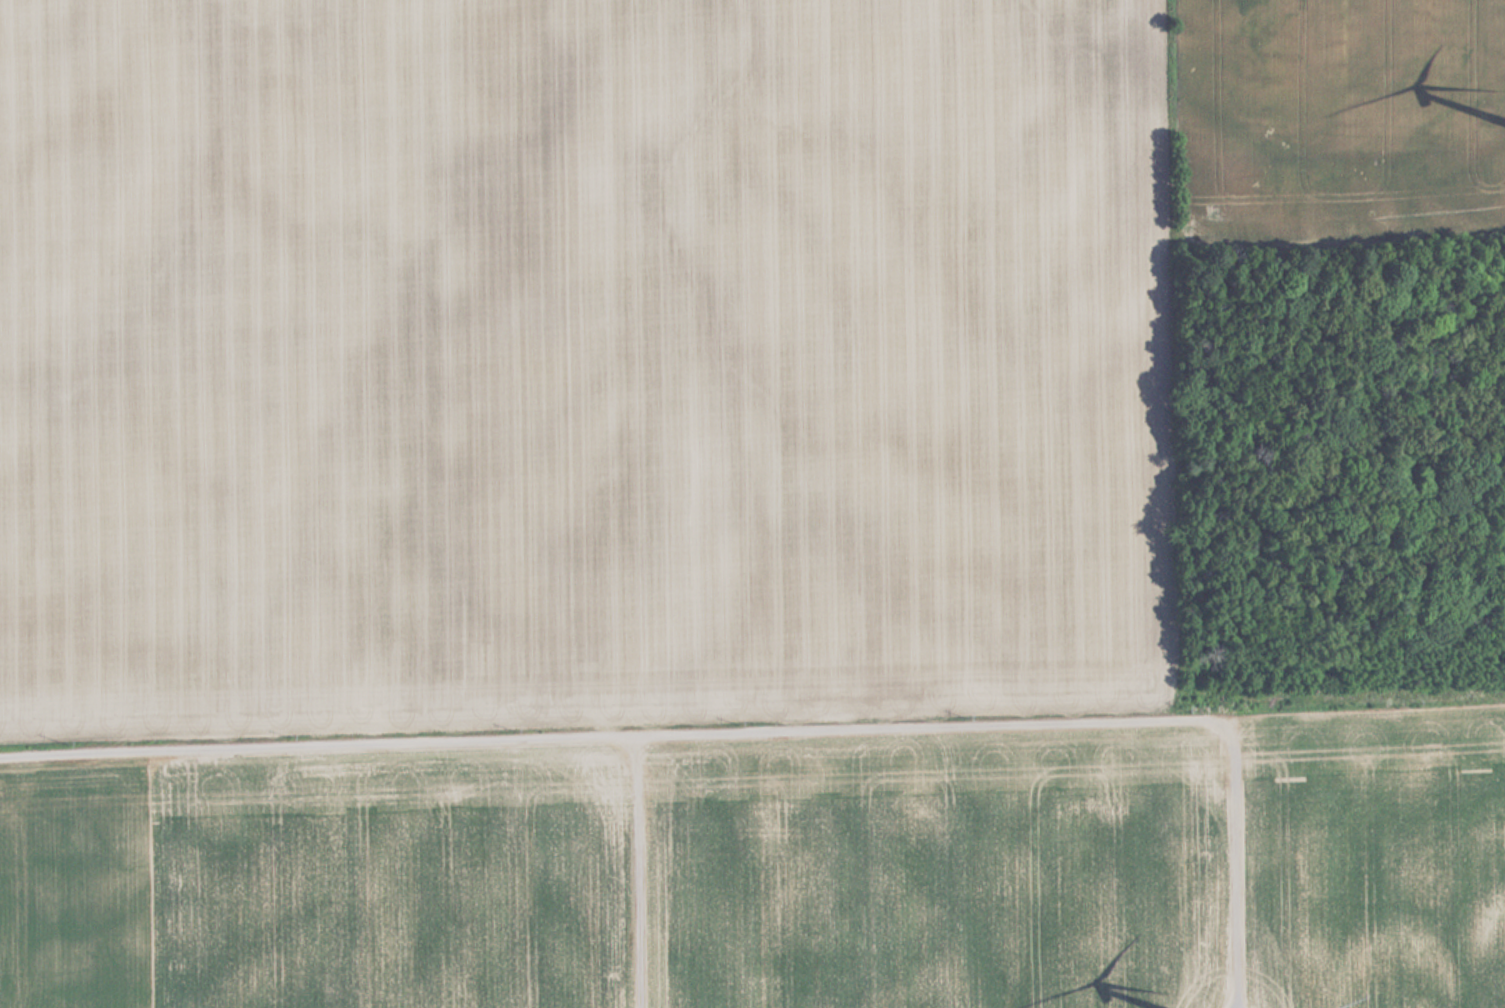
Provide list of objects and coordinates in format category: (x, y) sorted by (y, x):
road: (933, 728)
road: (317, 750)

